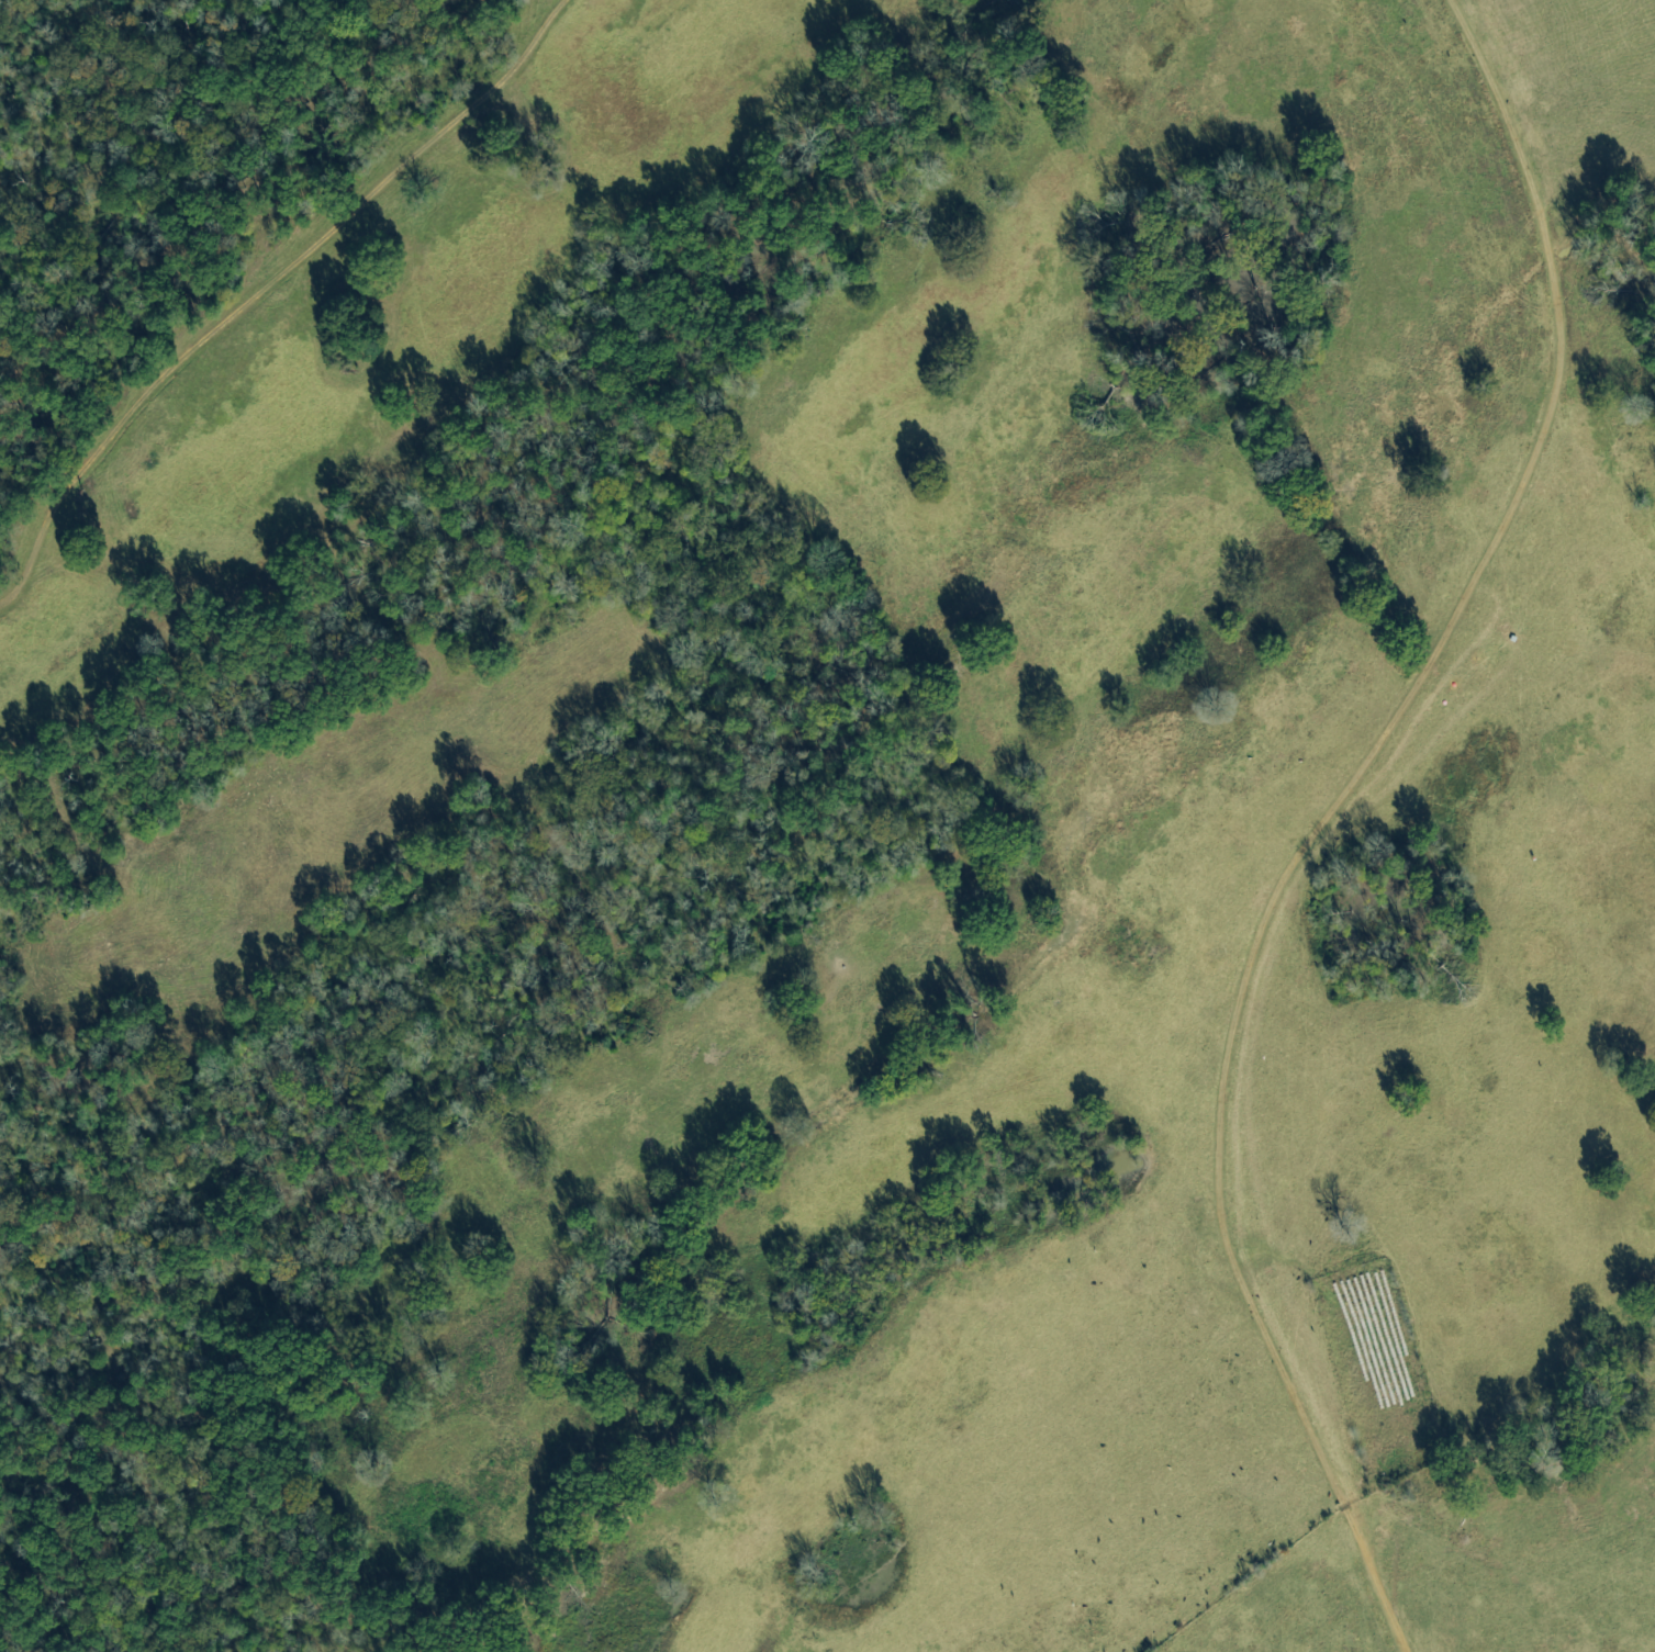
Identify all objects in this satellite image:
road: (1344, 818)

